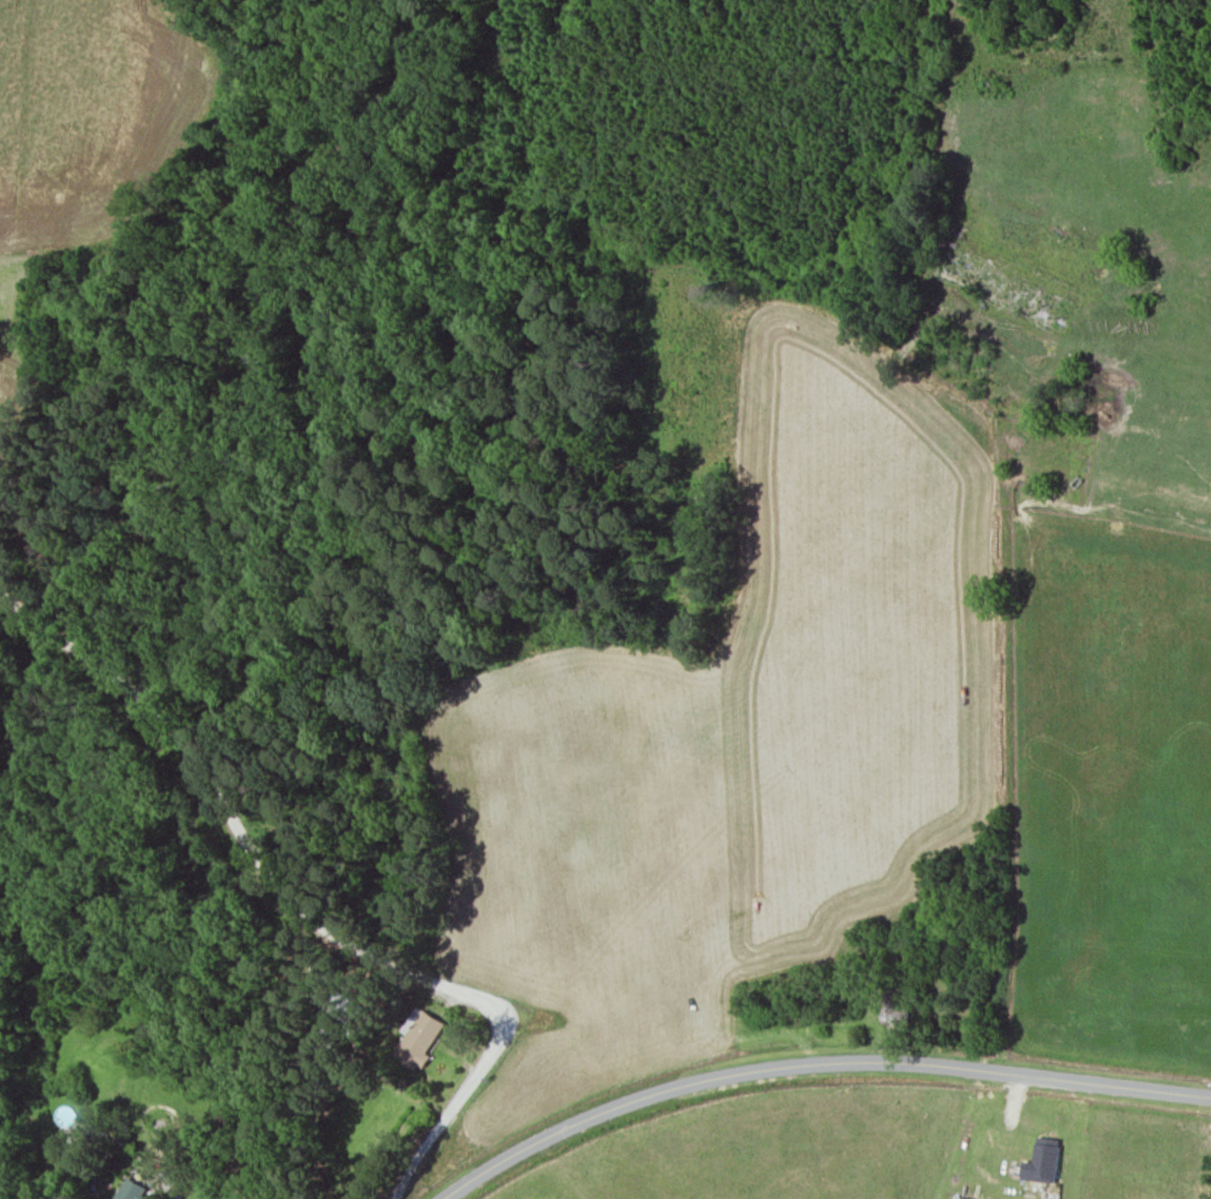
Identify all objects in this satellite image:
road: (300, 908)
building: (417, 1038)
road: (813, 1066)
building: (1041, 1163)
building: (129, 1189)
building: (959, 1198)

